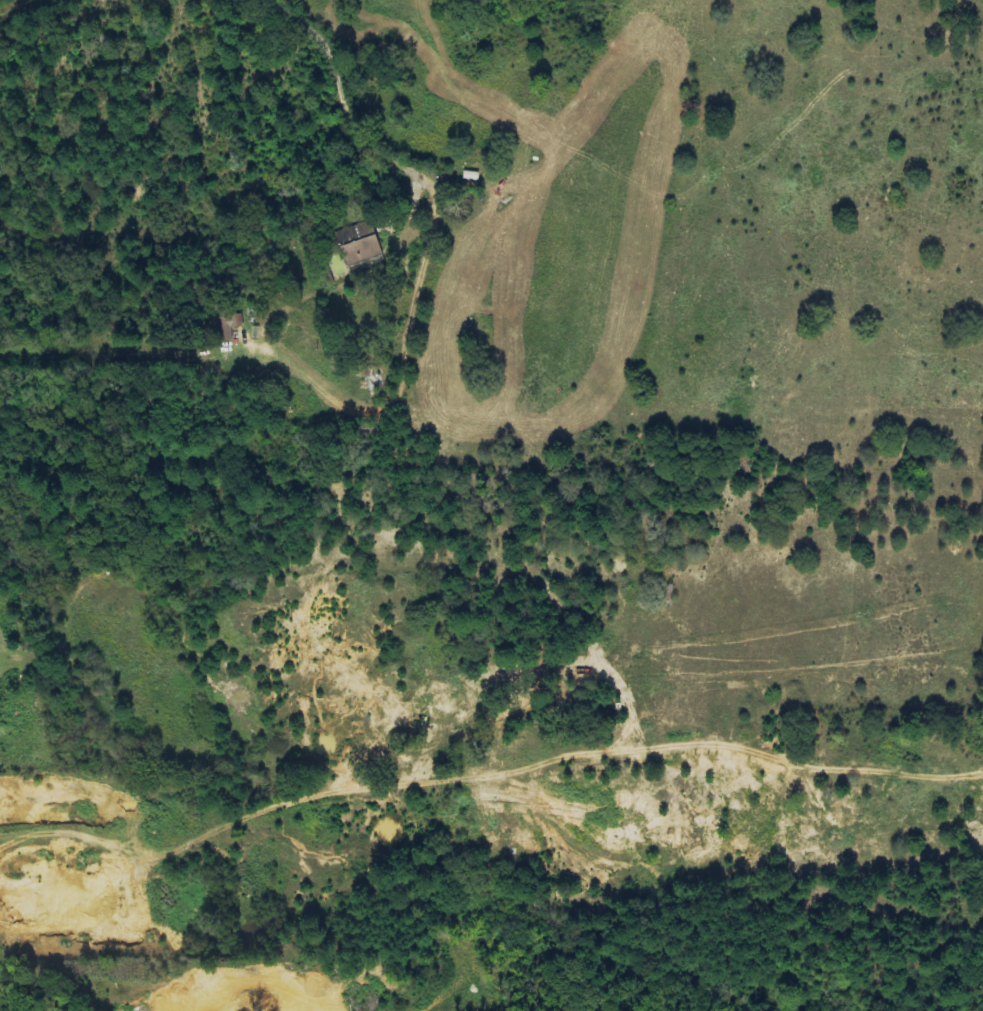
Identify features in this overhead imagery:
building: (227, 326)

